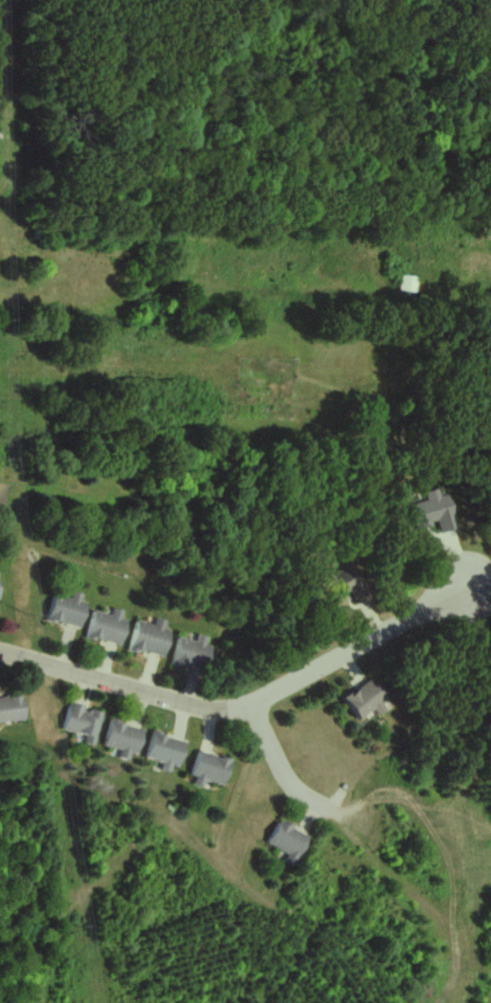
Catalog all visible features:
building: (408, 283)
building: (435, 511)
building: (354, 582)
building: (66, 610)
building: (106, 627)
building: (149, 638)
building: (191, 652)
building: (367, 699)
road: (248, 705)
building: (12, 709)
building: (81, 722)
building: (122, 739)
building: (165, 751)
road: (288, 763)
building: (210, 769)
building: (287, 842)

